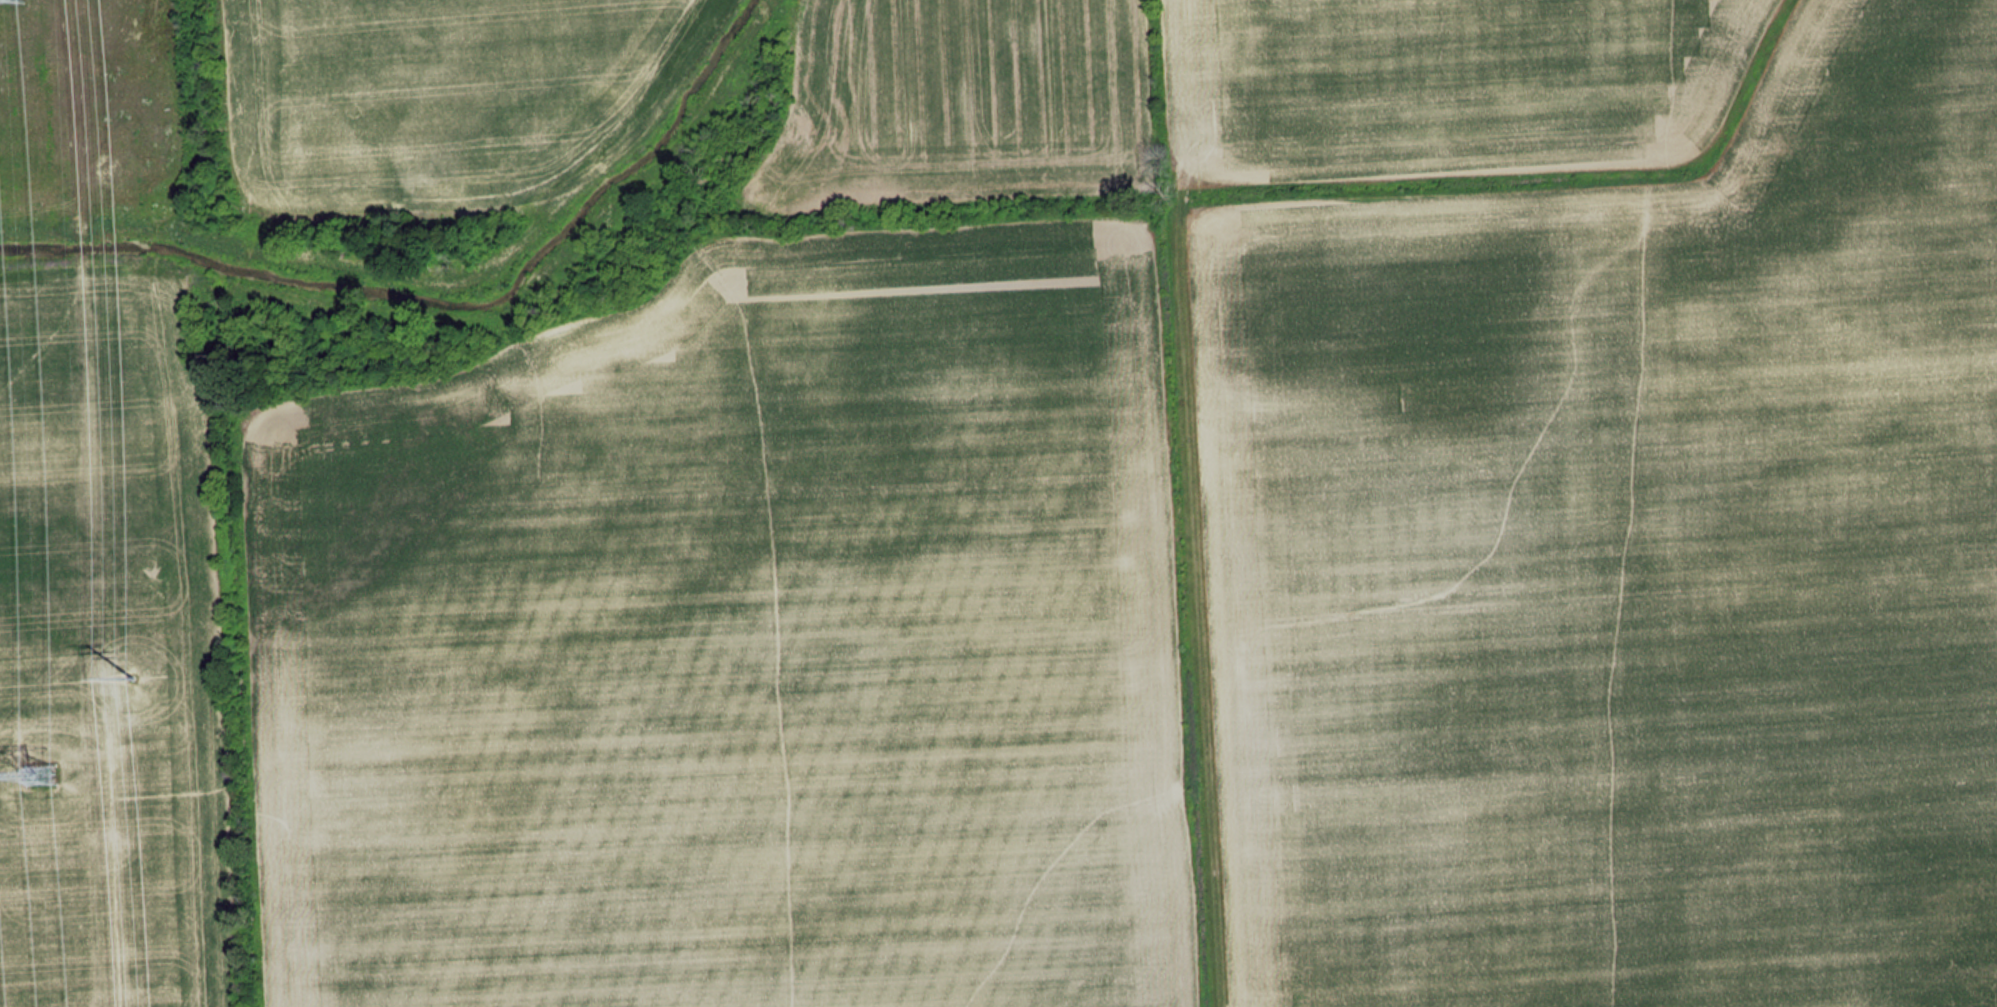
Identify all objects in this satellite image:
power tower: (1, 0)
power tower: (140, 685)
power tower: (34, 784)

